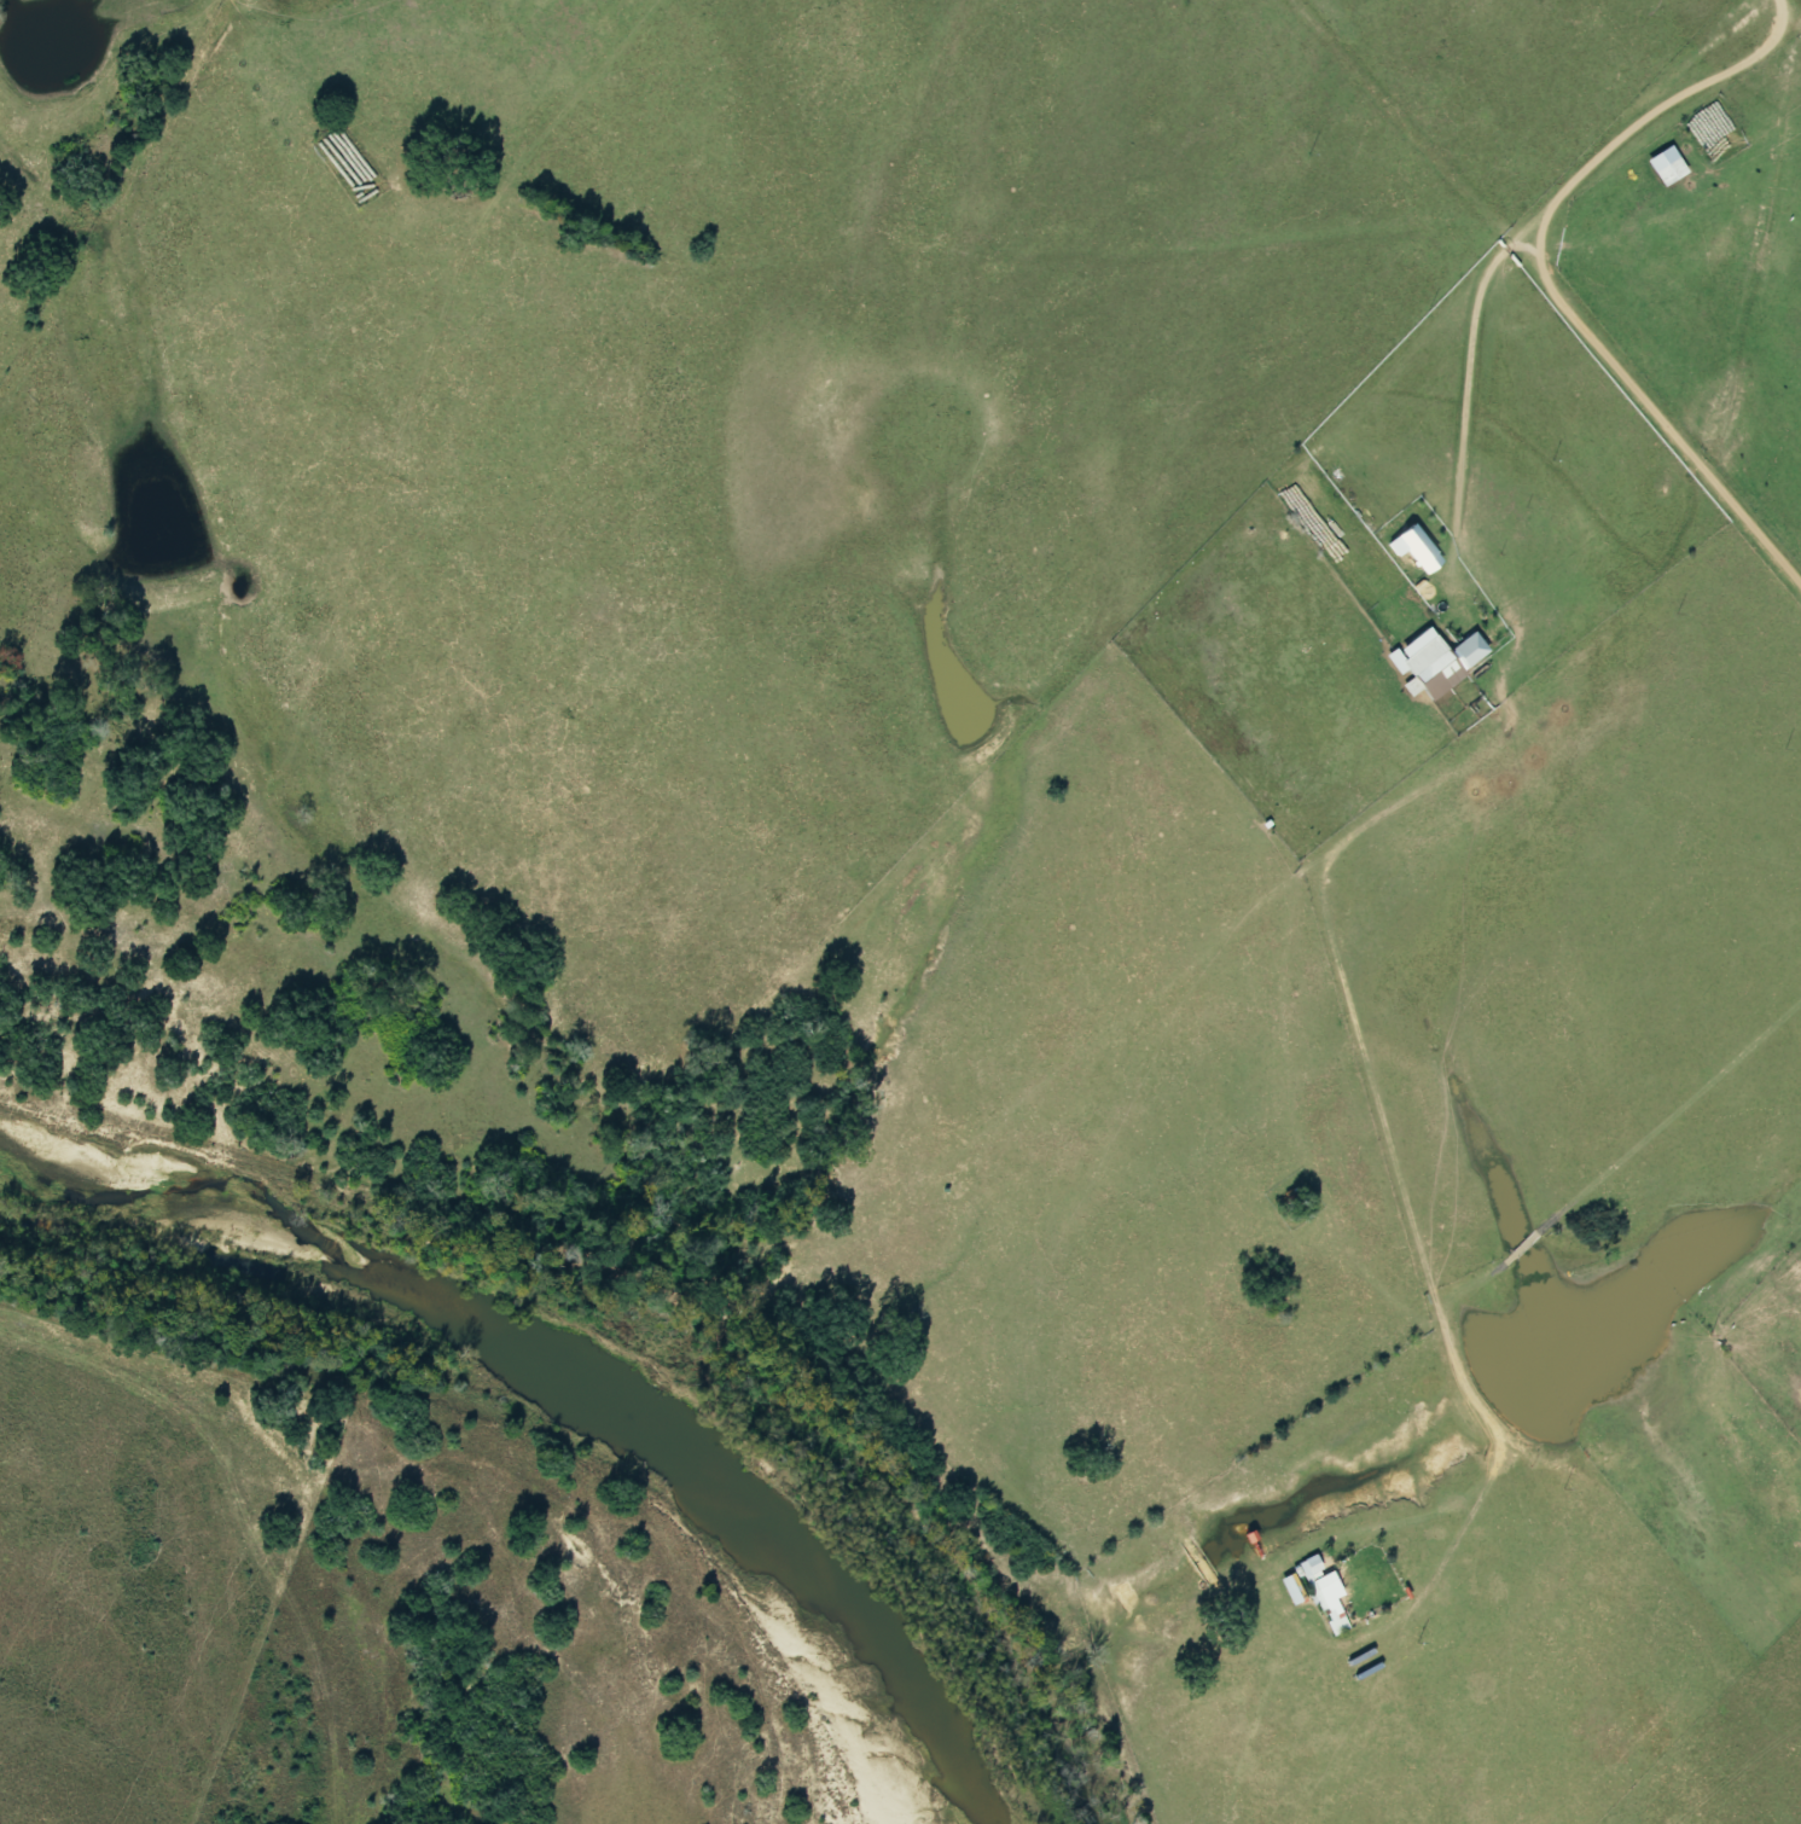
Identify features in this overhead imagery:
road: (1545, 286)
road: (1468, 359)
building: (1414, 547)
building: (1434, 662)
river: (650, 1382)
building: (1291, 1590)
building: (1324, 1594)

